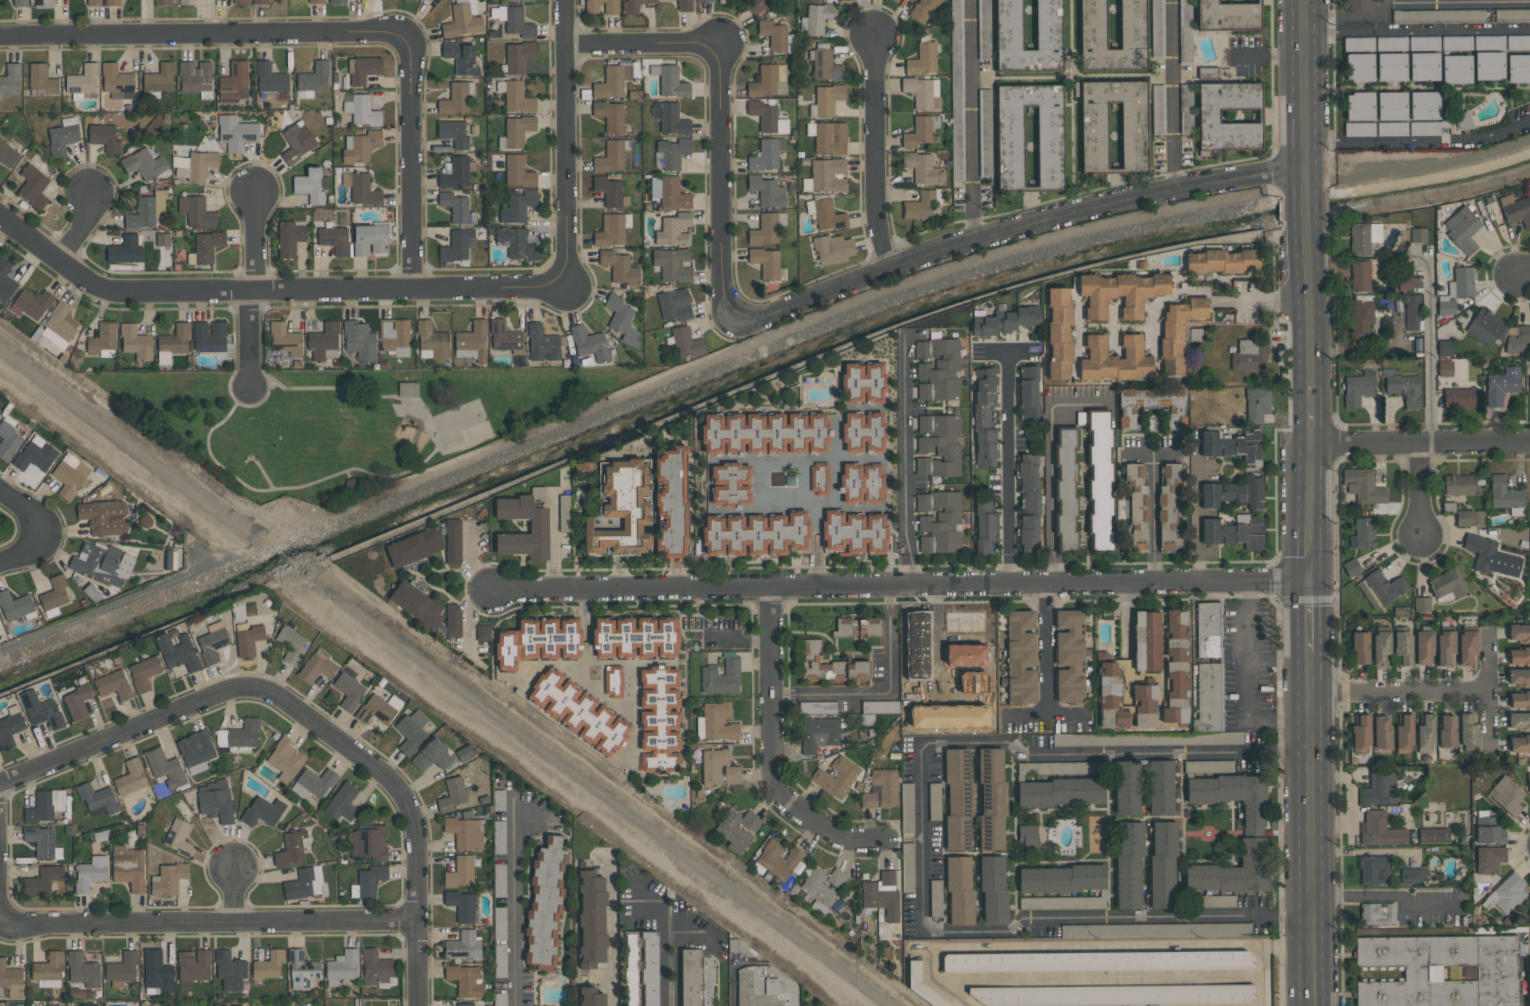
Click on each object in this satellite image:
building: (516, 0)
building: (896, 0)
building: (260, 1)
building: (314, 1)
building: (338, 1)
building: (704, 1)
road: (1414, 1)
building: (112, 2)
building: (162, 2)
building: (186, 2)
building: (240, 2)
building: (20, 3)
building: (43, 3)
building: (93, 3)
building: (635, 5)
building: (684, 5)
building: (1358, 5)
building: (755, 6)
building: (610, 8)
building: (922, 10)
building: (1512, 14)
building: (1228, 15)
building: (1437, 15)
building: (817, 18)
building: (462, 21)
building: (519, 23)
building: (1048, 24)
building: (1093, 24)
building: (984, 29)
building: (1157, 29)
road: (1417, 30)
building: (1185, 31)
building: (774, 34)
road: (326, 38)
building: (1389, 42)
building: (1419, 42)
building: (1456, 42)
building: (1518, 42)
building: (1489, 43)
building: (518, 56)
building: (461, 58)
building: (923, 59)
building: (1360, 59)
building: (1489, 65)
building: (825, 66)
building: (1391, 66)
building: (1424, 66)
road: (1170, 67)
building: (1518, 68)
building: (363, 69)
building: (1456, 69)
building: (195, 76)
building: (41, 78)
building: (160, 78)
building: (270, 78)
building: (10, 79)
building: (313, 79)
building: (82, 80)
building: (117, 81)
building: (612, 81)
building: (769, 81)
road: (1306, 81)
building: (671, 82)
building: (234, 83)
building: (957, 90)
building: (923, 92)
road: (970, 92)
building: (516, 96)
building: (455, 98)
building: (826, 100)
building: (1424, 104)
building: (1359, 105)
building: (1391, 105)
road: (720, 109)
building: (1158, 109)
building: (362, 110)
building: (1186, 110)
building: (1230, 115)
building: (610, 116)
building: (767, 117)
building: (673, 119)
building: (1463, 121)
building: (1391, 128)
building: (1424, 128)
building: (1359, 129)
building: (921, 130)
building: (516, 131)
building: (236, 132)
building: (985, 132)
building: (453, 133)
building: (1093, 135)
building: (63, 136)
building: (104, 137)
building: (829, 137)
building: (297, 141)
road: (1419, 141)
road: (567, 142)
building: (360, 146)
building: (1050, 146)
building: (10, 152)
building: (673, 152)
road: (873, 153)
building: (767, 154)
building: (610, 157)
road: (1172, 162)
building: (144, 164)
building: (195, 165)
building: (924, 169)
building: (519, 171)
building: (457, 172)
building: (828, 175)
road: (1307, 179)
building: (311, 185)
building: (33, 186)
building: (361, 189)
building: (610, 191)
building: (767, 191)
building: (669, 192)
building: (517, 205)
building: (457, 206)
building: (919, 206)
building: (1516, 210)
building: (146, 211)
building: (196, 211)
road: (972, 213)
road: (1307, 213)
building: (826, 214)
building: (612, 229)
building: (765, 229)
building: (1462, 229)
building: (674, 230)
road: (1015, 230)
road: (80, 231)
building: (1418, 235)
building: (1363, 237)
building: (290, 238)
building: (163, 239)
building: (334, 239)
building: (370, 239)
building: (516, 243)
building: (207, 245)
building: (458, 245)
building: (833, 249)
building: (122, 250)
building: (1222, 261)
building: (767, 263)
building: (673, 264)
building: (619, 267)
road: (1523, 274)
building: (1360, 276)
building: (1405, 282)
building: (5, 283)
road: (254, 289)
road: (271, 291)
building: (1119, 293)
road: (1262, 302)
building: (31, 304)
building: (675, 305)
road: (1310, 306)
building: (1446, 306)
building: (1412, 312)
building: (1017, 318)
building: (1363, 318)
building: (621, 319)
building: (59, 326)
building: (983, 326)
building: (1486, 327)
building: (1058, 332)
building: (1178, 332)
building: (209, 336)
building: (395, 336)
building: (505, 337)
building: (285, 339)
building: (1517, 339)
building: (103, 340)
building: (359, 340)
building: (433, 340)
building: (174, 341)
building: (324, 341)
building: (471, 341)
building: (135, 342)
building: (686, 342)
building: (589, 343)
building: (542, 344)
building: (1445, 347)
road: (1009, 353)
building: (1250, 355)
road: (1431, 355)
building: (1114, 359)
building: (1445, 368)
building: (937, 369)
building: (1529, 378)
building: (863, 383)
building: (1500, 385)
building: (1402, 387)
building: (1358, 388)
building: (408, 389)
road: (644, 389)
building: (1028, 393)
building: (1458, 398)
building: (1254, 404)
building: (1151, 406)
road: (1312, 413)
building: (984, 417)
building: (1229, 417)
park: (346, 427)
park: (462, 427)
building: (863, 432)
building: (765, 433)
building: (8, 438)
road: (1421, 443)
building: (938, 445)
building: (1232, 446)
building: (36, 454)
road: (1151, 454)
road: (819, 458)
road: (906, 461)
road: (836, 463)
road: (1052, 466)
road: (1008, 467)
road: (416, 469)
road: (262, 471)
building: (70, 476)
building: (819, 477)
building: (1100, 480)
road: (758, 482)
road: (805, 482)
building: (862, 483)
building: (730, 484)
building: (1362, 485)
building: (1459, 485)
road: (1422, 488)
building: (1066, 490)
building: (1234, 493)
building: (1506, 495)
building: (671, 501)
building: (1028, 501)
building: (1170, 505)
road: (822, 506)
building: (620, 510)
building: (1137, 510)
road: (22, 511)
road: (1196, 512)
road: (1312, 514)
building: (104, 517)
road: (1152, 517)
building: (1469, 518)
building: (939, 521)
building: (539, 526)
building: (985, 527)
building: (855, 532)
building: (1233, 533)
building: (754, 534)
building: (1363, 534)
building: (453, 541)
road: (818, 546)
building: (415, 547)
road: (22, 551)
building: (1493, 557)
road: (469, 561)
building: (101, 565)
building: (1351, 567)
traffic signals: (1311, 582)
road: (903, 584)
building: (1448, 585)
building: (1380, 588)
building: (55, 593)
building: (416, 604)
building: (1422, 604)
building: (14, 605)
road: (586, 615)
road: (1311, 617)
building: (453, 620)
building: (977, 626)
building: (857, 627)
building: (930, 630)
building: (1208, 630)
building: (483, 633)
building: (1518, 633)
building: (635, 638)
building: (248, 639)
building: (1147, 641)
building: (212, 642)
building: (538, 642)
building: (290, 644)
road: (1049, 646)
building: (1403, 647)
building: (1359, 648)
building: (1381, 648)
building: (1424, 648)
building: (1445, 648)
building: (1467, 648)
building: (177, 652)
building: (1519, 656)
building: (1069, 657)
building: (1021, 658)
road: (1280, 660)
building: (829, 665)
building: (317, 666)
road: (562, 667)
building: (1176, 669)
building: (143, 673)
building: (721, 677)
building: (1518, 677)
road: (1249, 680)
building: (613, 681)
building: (113, 685)
road: (773, 688)
building: (348, 689)
road: (1490, 689)
building: (1110, 690)
road: (1400, 690)
road: (886, 695)
building: (1209, 698)
building: (1519, 699)
building: (77, 702)
building: (1144, 705)
building: (881, 707)
road: (622, 708)
building: (818, 708)
building: (378, 709)
building: (40, 710)
building: (578, 711)
road: (307, 719)
building: (659, 720)
building: (718, 721)
building: (1518, 721)
building: (1468, 730)
building: (411, 731)
building: (1447, 731)
building: (1382, 732)
building: (1425, 733)
building: (819, 734)
building: (239, 735)
building: (1361, 735)
building: (1404, 735)
road: (633, 737)
building: (1222, 738)
building: (1073, 739)
building: (1519, 743)
building: (196, 751)
road: (1113, 752)
building: (464, 753)
building: (432, 756)
building: (285, 759)
building: (162, 765)
building: (713, 766)
building: (1208, 766)
building: (1058, 767)
building: (732, 775)
building: (836, 777)
building: (130, 778)
building: (1528, 780)
building: (314, 783)
building: (1127, 787)
building: (1161, 787)
building: (1379, 788)
building: (881, 790)
building: (1060, 792)
building: (452, 794)
building: (1507, 795)
building: (95, 796)
building: (993, 797)
building: (1233, 797)
building: (958, 799)
building: (499, 800)
building: (216, 801)
building: (342, 802)
building: (46, 805)
building: (935, 806)
building: (264, 810)
building: (738, 827)
road: (1312, 829)
road: (825, 830)
building: (1381, 830)
building: (1489, 831)
building: (465, 832)
building: (1433, 835)
building: (499, 837)
road: (920, 837)
building: (1028, 837)
building: (178, 838)
building: (43, 842)
building: (369, 844)
building: (292, 848)
building: (908, 857)
building: (1489, 859)
building: (778, 860)
building: (1163, 865)
building: (1129, 866)
building: (128, 867)
building: (1375, 870)
building: (1233, 871)
building: (460, 872)
building: (90, 873)
building: (1411, 876)
building: (836, 878)
building: (1063, 879)
building: (169, 880)
building: (499, 880)
building: (42, 881)
building: (368, 881)
building: (304, 883)
building: (960, 890)
building: (993, 890)
building: (815, 891)
building: (1507, 893)
road: (1387, 894)
building: (883, 896)
road: (234, 897)
building: (1214, 901)
building: (1063, 902)
road: (514, 904)
building: (545, 904)
building: (461, 906)
building: (1529, 908)
building: (1377, 913)
road: (1116, 917)
building: (591, 918)
road: (208, 923)
building: (499, 923)
building: (1155, 929)
road: (611, 936)
road: (1287, 944)
building: (464, 947)
road: (1087, 948)
building: (500, 960)
road: (668, 961)
building: (1098, 962)
building: (269, 965)
building: (122, 967)
building: (193, 967)
building: (342, 967)
building: (376, 968)
building: (648, 968)
building: (83, 970)
building: (230, 970)
building: (302, 970)
building: (1441, 970)
building: (48, 971)
building: (697, 978)
building: (11, 979)
building: (466, 980)
building: (922, 986)
building: (764, 987)
building: (1109, 995)
building: (591, 997)
building: (500, 999)
building: (465, 1004)
building: (237, 1005)

